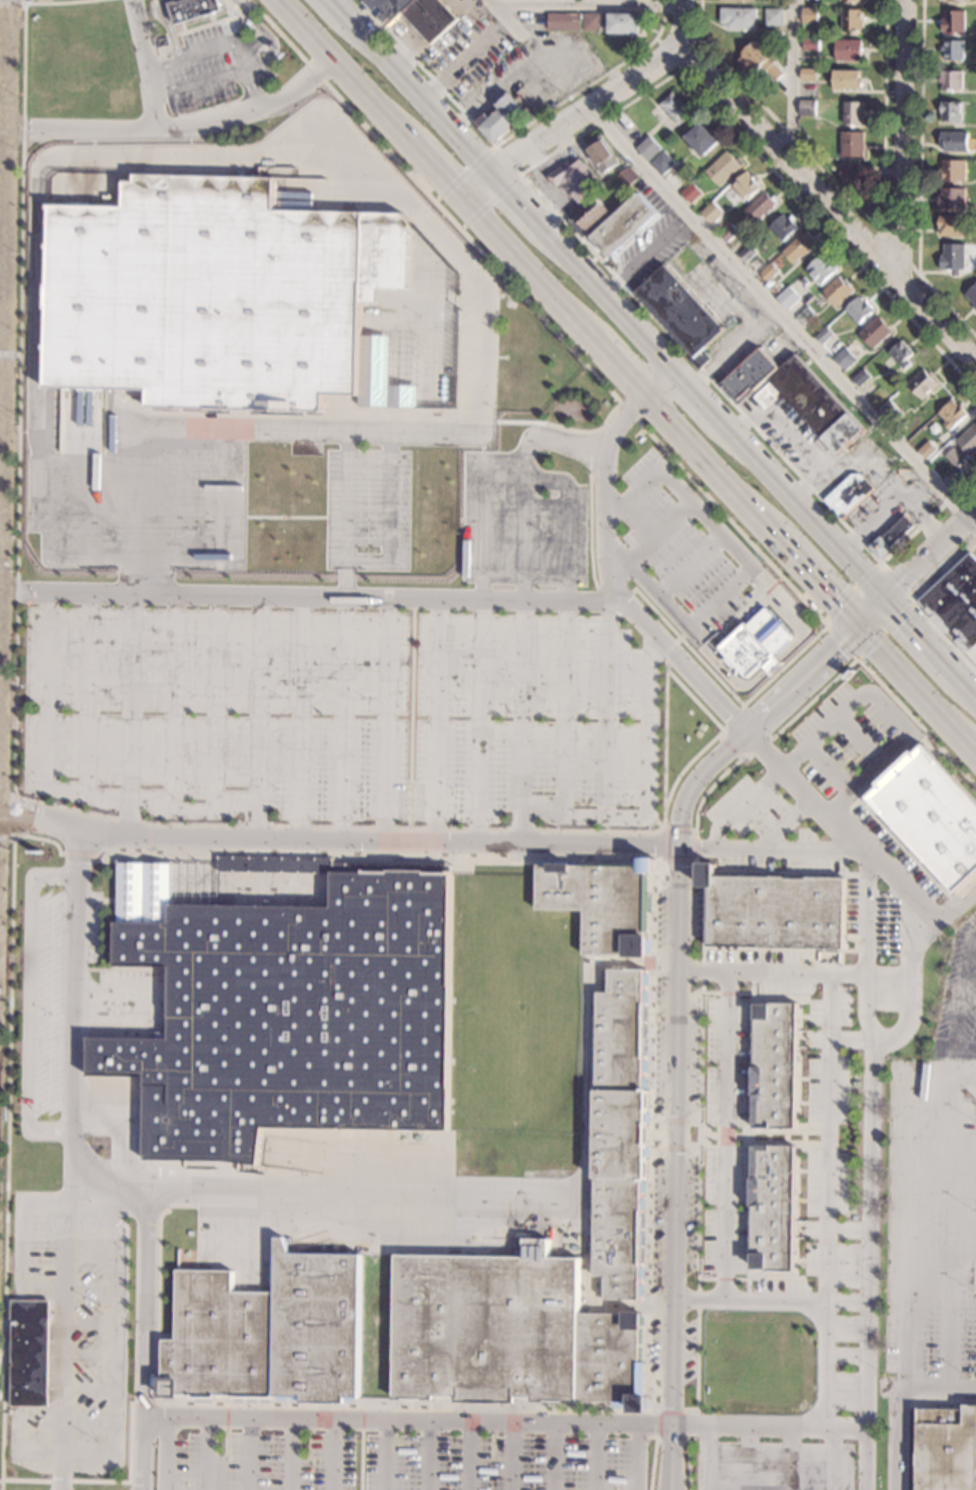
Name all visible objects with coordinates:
building: (749, 0)
building: (851, 0)
building: (958, 0)
road: (13, 2)
road: (588, 4)
road: (338, 7)
building: (195, 10)
building: (417, 15)
building: (809, 15)
building: (774, 16)
road: (506, 17)
building: (738, 18)
building: (851, 19)
building: (563, 21)
building: (590, 21)
road: (683, 21)
building: (953, 21)
building: (624, 23)
road: (169, 29)
road: (267, 36)
road: (8, 39)
building: (810, 44)
building: (952, 49)
building: (847, 50)
road: (203, 52)
building: (759, 60)
road: (681, 64)
road: (345, 70)
road: (791, 73)
building: (807, 74)
road: (148, 75)
road: (217, 77)
building: (846, 79)
building: (950, 80)
road: (420, 93)
building: (674, 107)
building: (806, 107)
road: (590, 110)
building: (950, 111)
building: (852, 112)
building: (502, 116)
road: (180, 128)
road: (507, 136)
road: (901, 138)
building: (701, 139)
building: (953, 141)
building: (851, 143)
building: (648, 148)
building: (603, 153)
road: (54, 155)
road: (507, 160)
building: (662, 163)
building: (723, 168)
road: (438, 169)
building: (952, 170)
road: (463, 173)
building: (848, 173)
building: (627, 177)
building: (87, 178)
road: (919, 179)
building: (578, 180)
road: (530, 184)
road: (479, 185)
building: (745, 185)
building: (691, 193)
building: (951, 198)
road: (519, 200)
road: (830, 201)
road: (490, 202)
road: (856, 206)
road: (6, 207)
building: (758, 207)
building: (711, 212)
building: (589, 216)
building: (624, 224)
building: (952, 225)
building: (782, 227)
building: (728, 232)
road: (441, 233)
road: (887, 239)
building: (797, 248)
road: (644, 253)
building: (747, 254)
building: (953, 258)
road: (528, 269)
building: (821, 270)
building: (768, 272)
building: (838, 291)
building: (972, 296)
building: (786, 299)
building: (218, 300)
road: (609, 300)
building: (859, 310)
building: (679, 311)
road: (536, 313)
building: (804, 315)
road: (783, 319)
road: (9, 320)
building: (875, 333)
building: (823, 335)
road: (2, 336)
road: (731, 348)
road: (10, 354)
building: (901, 355)
building: (841, 356)
building: (700, 359)
road: (19, 360)
road: (619, 367)
parking lot: (521, 376)
building: (749, 376)
building: (861, 377)
road: (4, 379)
road: (660, 384)
building: (923, 384)
road: (697, 397)
building: (811, 405)
building: (890, 412)
building: (952, 415)
road: (563, 428)
road: (303, 431)
building: (963, 447)
building: (926, 450)
road: (591, 453)
road: (709, 464)
building: (849, 494)
road: (802, 509)
road: (48, 513)
parking lot: (220, 513)
parking lot: (499, 521)
road: (590, 532)
building: (891, 538)
road: (651, 540)
parking lot: (685, 543)
road: (1, 550)
road: (526, 552)
road: (930, 554)
parking lot: (973, 554)
road: (740, 555)
road: (690, 566)
road: (814, 578)
road: (0, 586)
road: (612, 590)
road: (310, 593)
traffic signals: (885, 597)
road: (911, 599)
road: (915, 604)
building: (956, 605)
road: (871, 610)
road: (176, 617)
road: (216, 617)
road: (90, 619)
traffic signals: (857, 624)
road: (565, 630)
road: (259, 634)
road: (303, 635)
road: (132, 636)
road: (345, 636)
road: (387, 637)
road: (438, 638)
road: (923, 638)
road: (480, 639)
building: (757, 644)
road: (666, 650)
road: (776, 659)
road: (915, 686)
road: (725, 687)
road: (969, 687)
road: (814, 698)
road: (606, 708)
parking lot: (217, 711)
road: (890, 711)
road: (755, 719)
parking lot: (534, 720)
road: (916, 723)
road: (717, 735)
parking lot: (855, 739)
road: (859, 739)
road: (729, 747)
road: (974, 750)
road: (830, 767)
road: (712, 784)
road: (647, 787)
road: (52, 789)
road: (6, 794)
road: (743, 802)
traffic signals: (17, 816)
road: (12, 817)
building: (931, 817)
road: (790, 823)
road: (414, 829)
road: (696, 829)
parking lot: (765, 832)
road: (6, 839)
road: (149, 840)
road: (337, 840)
road: (769, 848)
road: (80, 854)
road: (377, 860)
building: (647, 867)
building: (708, 875)
road: (869, 883)
building: (600, 905)
building: (777, 912)
parking lot: (696, 914)
road: (946, 915)
parking lot: (888, 916)
road: (975, 940)
road: (911, 953)
road: (621, 962)
road: (703, 964)
parking lot: (767, 970)
road: (771, 973)
road: (117, 998)
road: (961, 1001)
parking lot: (661, 1002)
road: (29, 1003)
parking lot: (832, 1007)
building: (286, 1009)
parking lot: (82, 1012)
road: (672, 1021)
parking lot: (726, 1029)
road: (78, 1033)
road: (839, 1040)
parking lot: (693, 1050)
building: (776, 1065)
parking lot: (829, 1090)
parking lot: (727, 1096)
road: (107, 1121)
building: (621, 1133)
road: (5, 1134)
road: (727, 1136)
parking lot: (725, 1175)
parking lot: (828, 1182)
road: (906, 1191)
road: (483, 1196)
road: (829, 1199)
building: (774, 1208)
parking lot: (691, 1213)
parking lot: (931, 1219)
road: (948, 1227)
road: (835, 1228)
road: (22, 1239)
parking lot: (724, 1241)
road: (90, 1254)
parking lot: (657, 1262)
road: (648, 1282)
road: (941, 1283)
road: (90, 1287)
road: (588, 1291)
parking lot: (782, 1294)
road: (768, 1300)
road: (89, 1323)
parking lot: (845, 1325)
road: (65, 1328)
parking lot: (73, 1332)
building: (267, 1333)
building: (508, 1333)
road: (113, 1340)
road: (146, 1341)
parking lot: (688, 1350)
building: (30, 1354)
building: (919, 1354)
road: (89, 1355)
parking lot: (883, 1387)
road: (88, 1391)
road: (897, 1399)
road: (158, 1404)
building: (639, 1404)
road: (141, 1405)
road: (683, 1410)
road: (913, 1415)
road: (361, 1419)
road: (505, 1421)
road: (88, 1424)
road: (19, 1440)
building: (946, 1449)
road: (164, 1454)
road: (205, 1454)
road: (248, 1454)
road: (292, 1454)
road: (332, 1455)
road: (385, 1455)
road: (430, 1455)
road: (469, 1455)
road: (511, 1456)
road: (553, 1456)
road: (594, 1456)
road: (638, 1456)
road: (708, 1457)
road: (749, 1457)
road: (792, 1458)
road: (833, 1458)
road: (359, 1460)
parking lot: (254, 1462)
parking lot: (502, 1463)
road: (652, 1464)
road: (687, 1464)
parking lot: (774, 1466)
road: (102, 1481)

